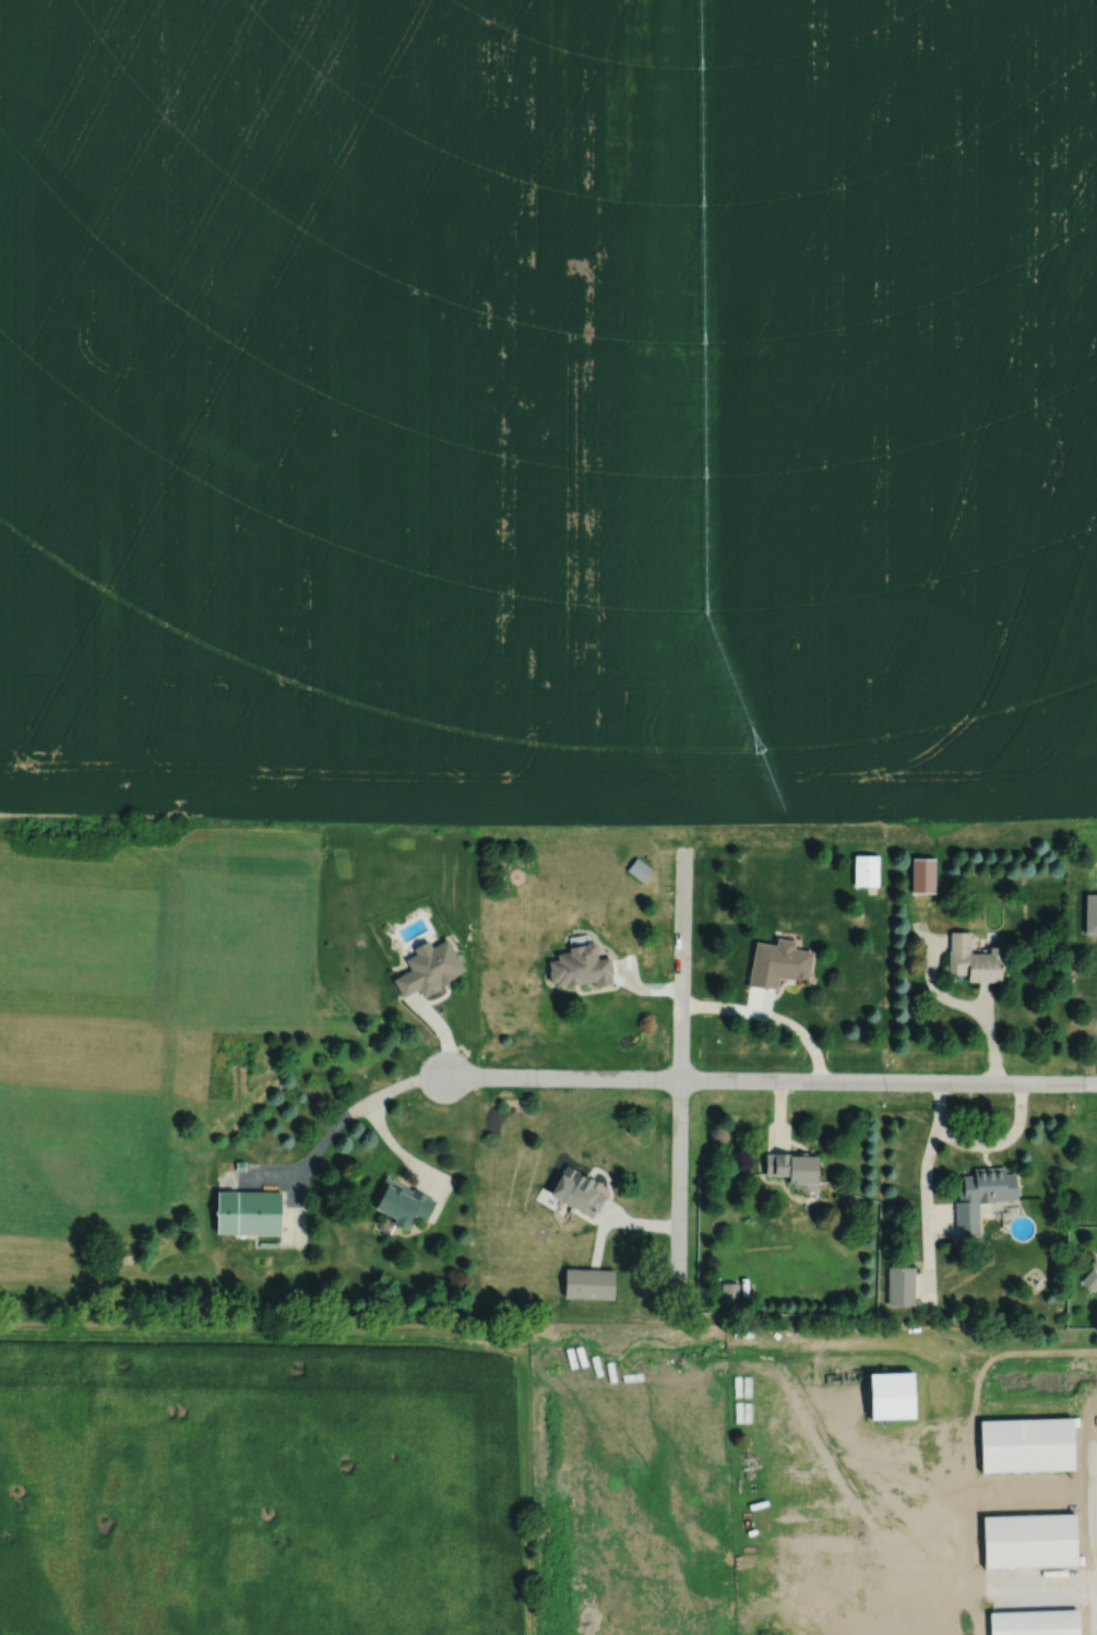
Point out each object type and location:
building: (865, 869)
building: (921, 874)
building: (1090, 913)
building: (973, 959)
building: (777, 962)
building: (579, 965)
building: (429, 968)
road: (770, 1018)
road: (683, 1074)
road: (563, 1079)
road: (890, 1081)
road: (341, 1119)
road: (999, 1140)
building: (792, 1169)
road: (923, 1186)
building: (576, 1190)
building: (980, 1195)
building: (401, 1201)
building: (248, 1212)
building: (1089, 1279)
building: (587, 1283)
building: (899, 1286)
building: (890, 1395)
building: (1025, 1444)
building: (1028, 1540)
building: (1034, 1622)

